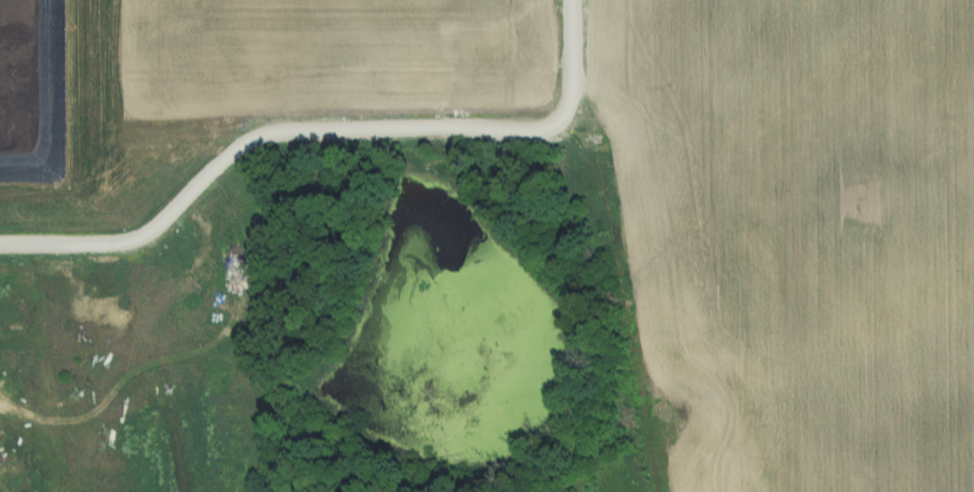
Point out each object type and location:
road: (320, 124)

